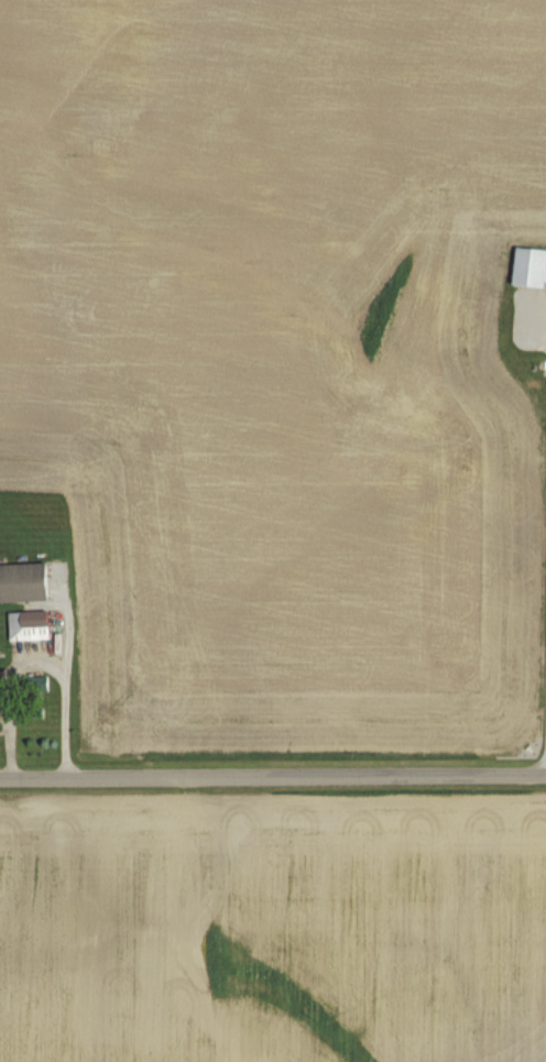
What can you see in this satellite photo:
building: (527, 269)
building: (21, 583)
building: (26, 625)
road: (74, 668)
road: (23, 689)
road: (273, 762)

